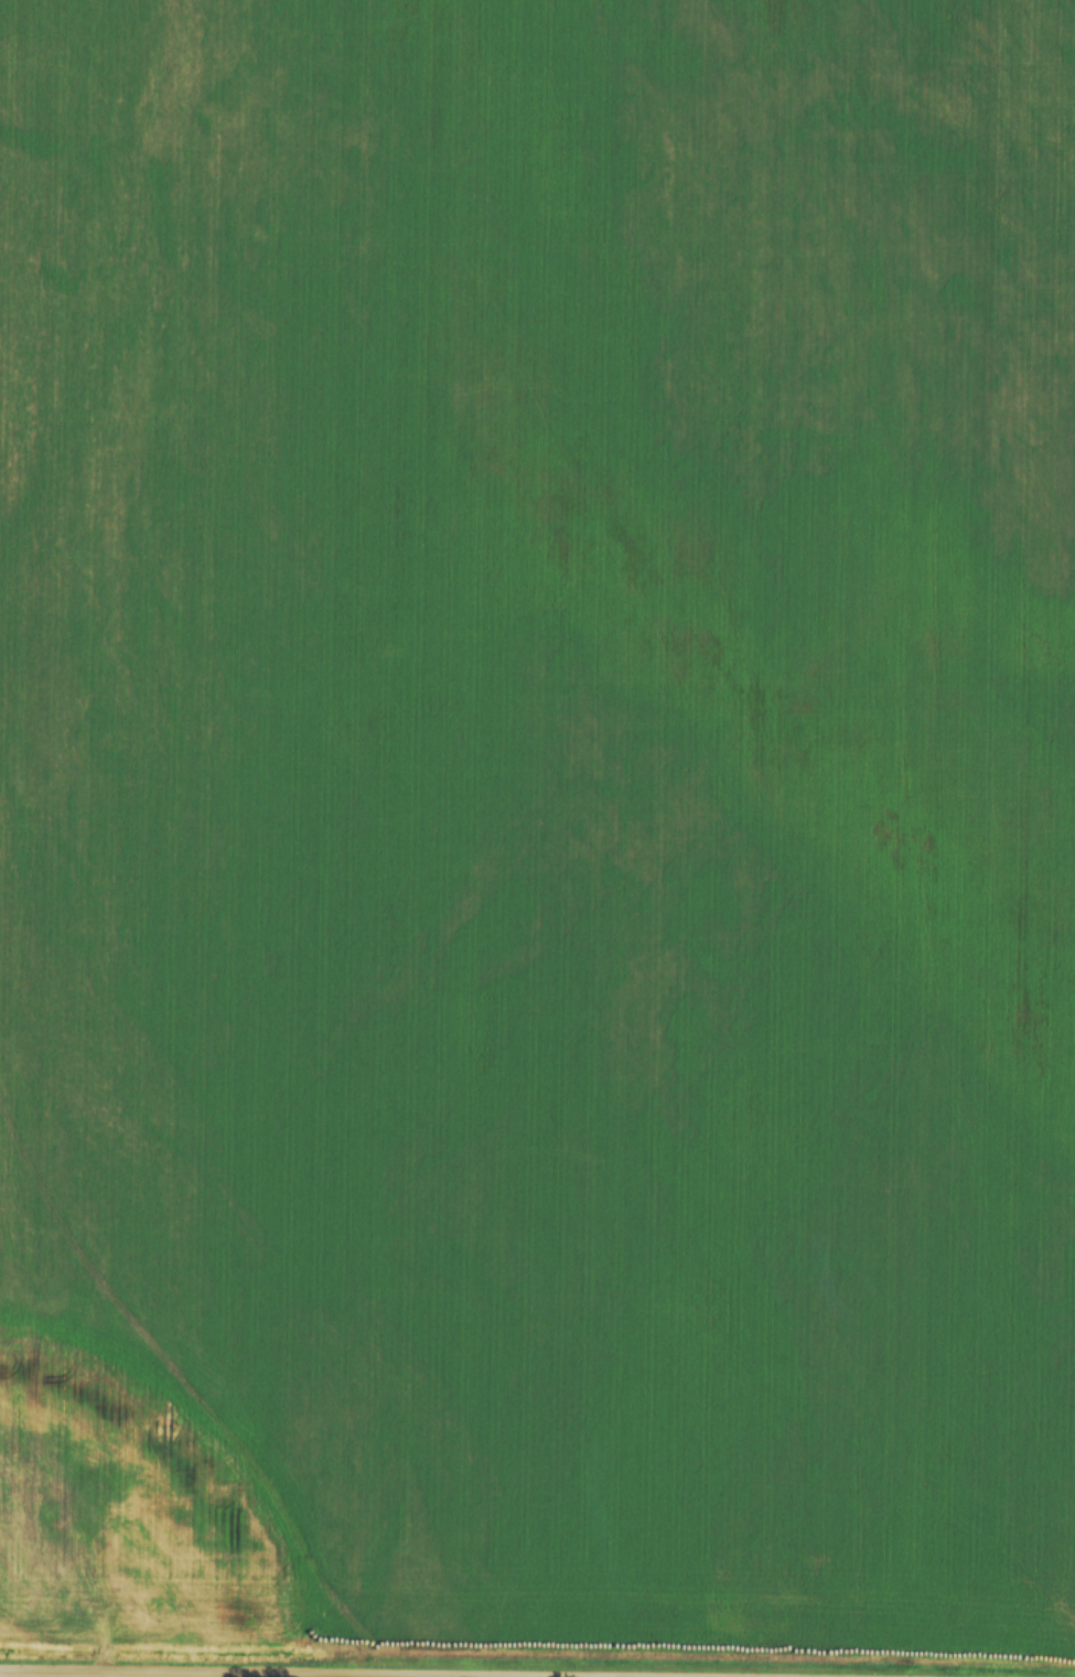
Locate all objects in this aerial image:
road: (187, 1674)

